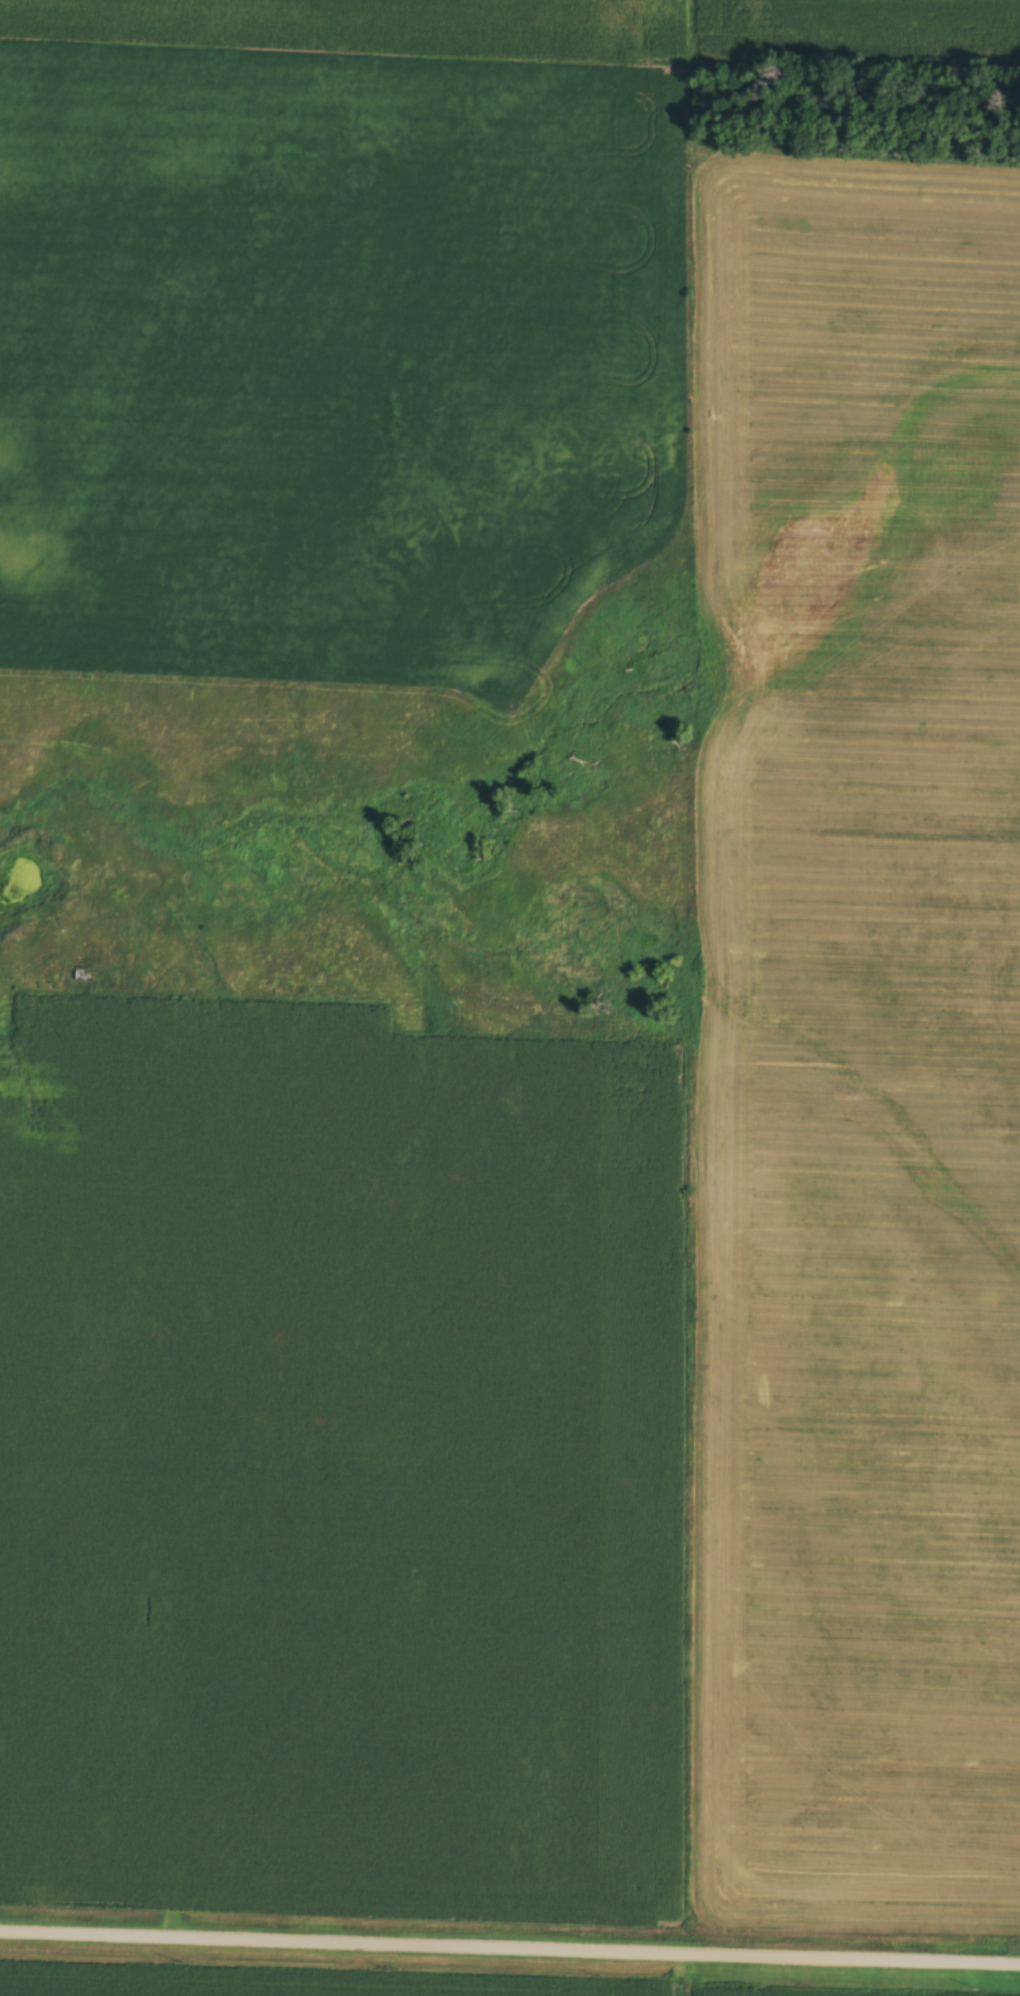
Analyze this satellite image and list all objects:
road: (510, 1946)

